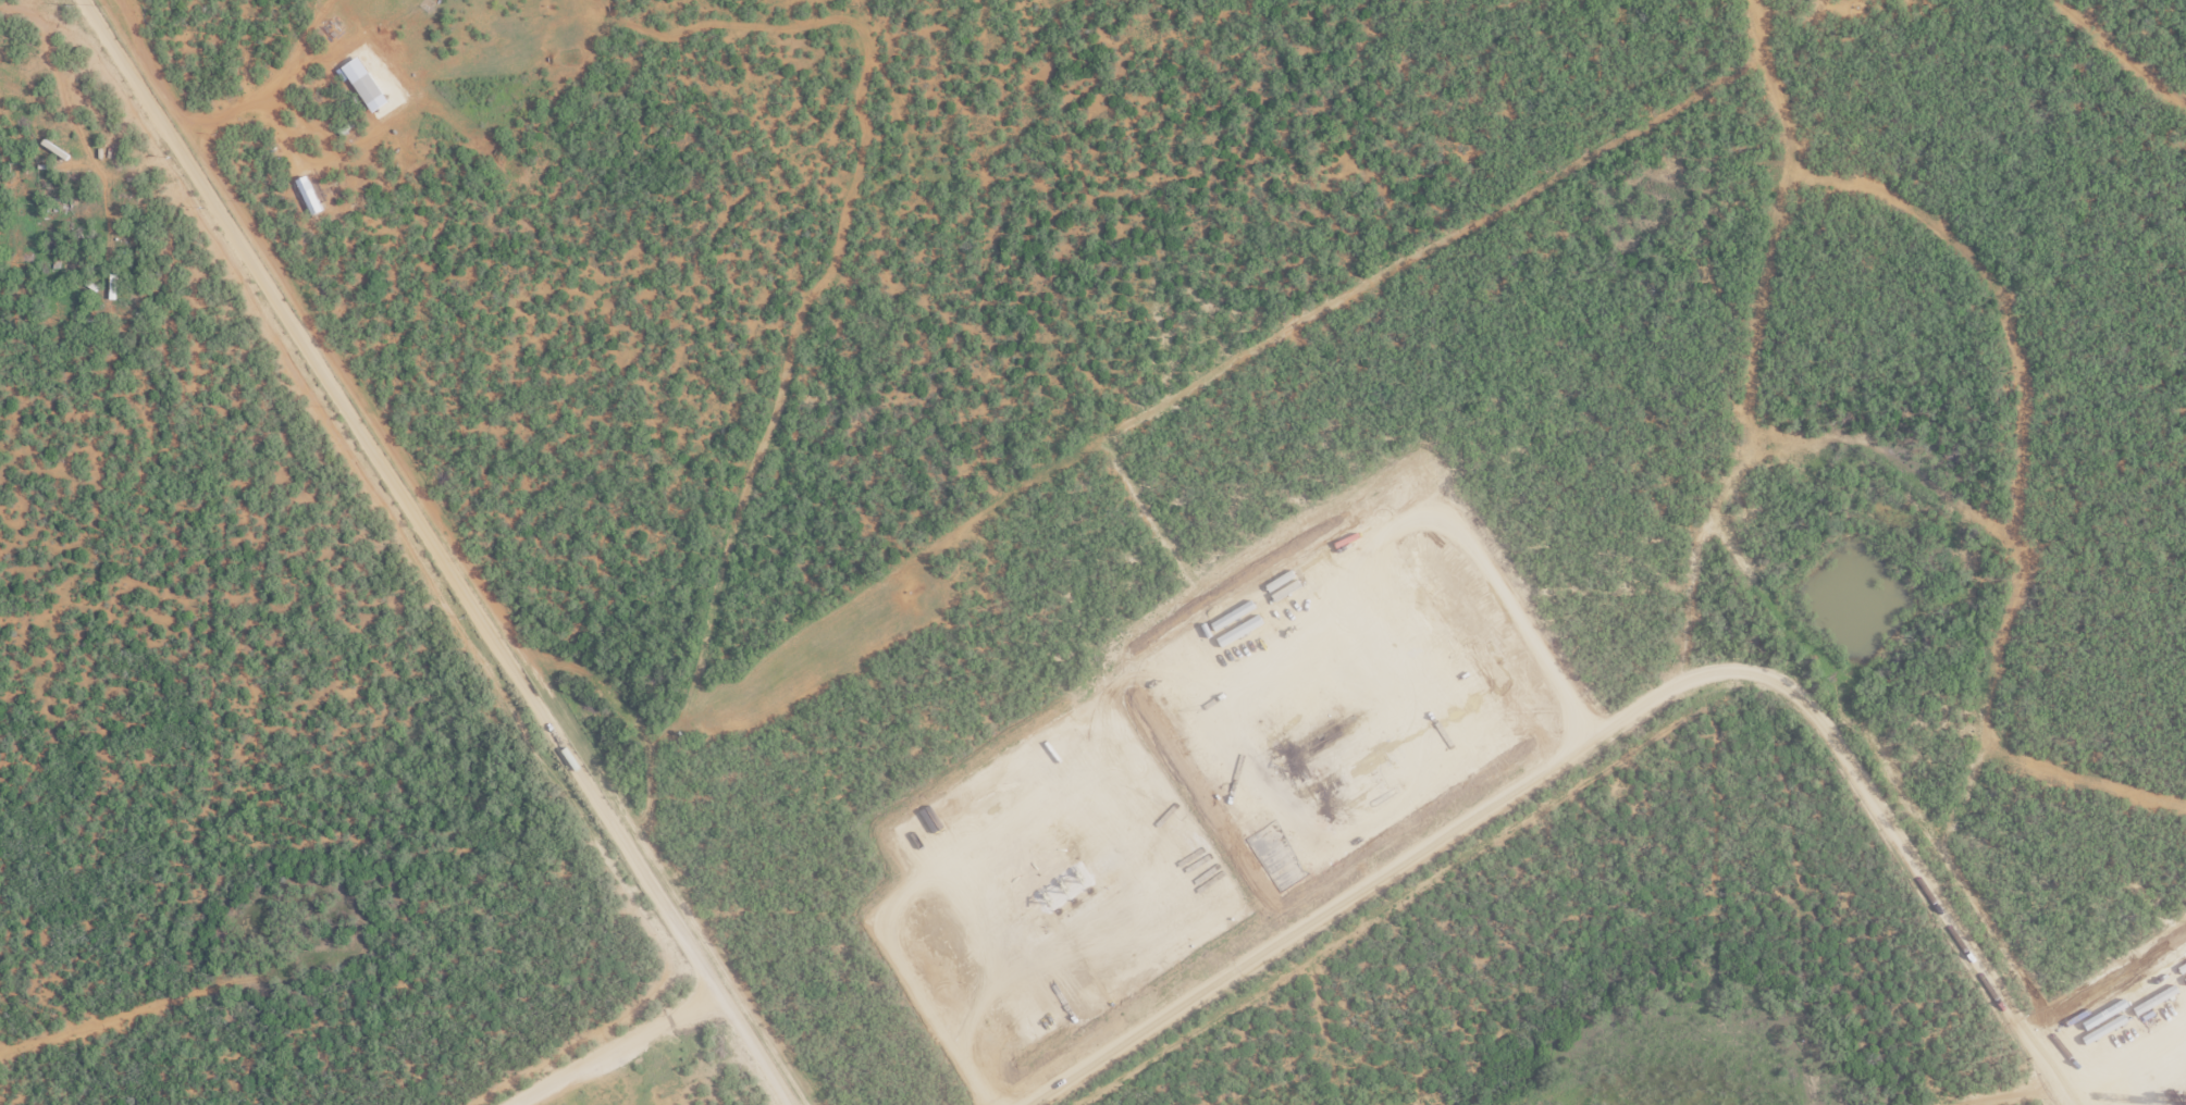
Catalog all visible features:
building: (367, 88)
building: (311, 195)
road: (437, 551)
road: (615, 1046)

